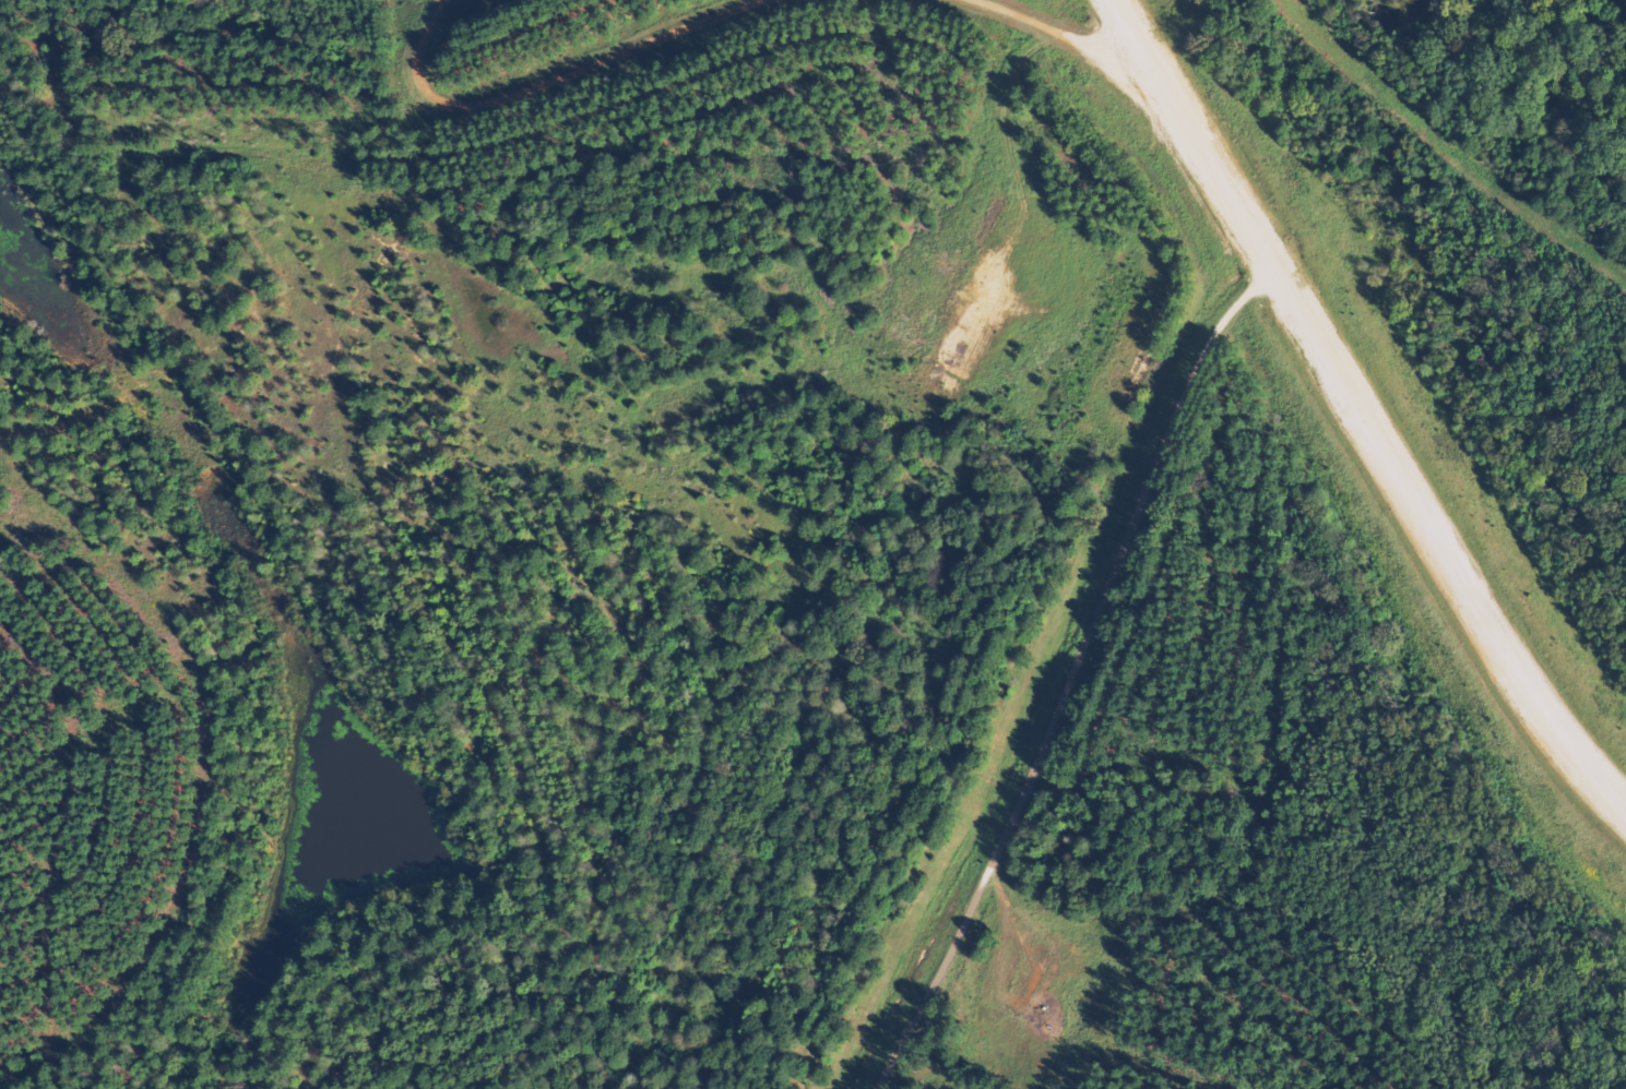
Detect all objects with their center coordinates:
road: (1357, 411)

